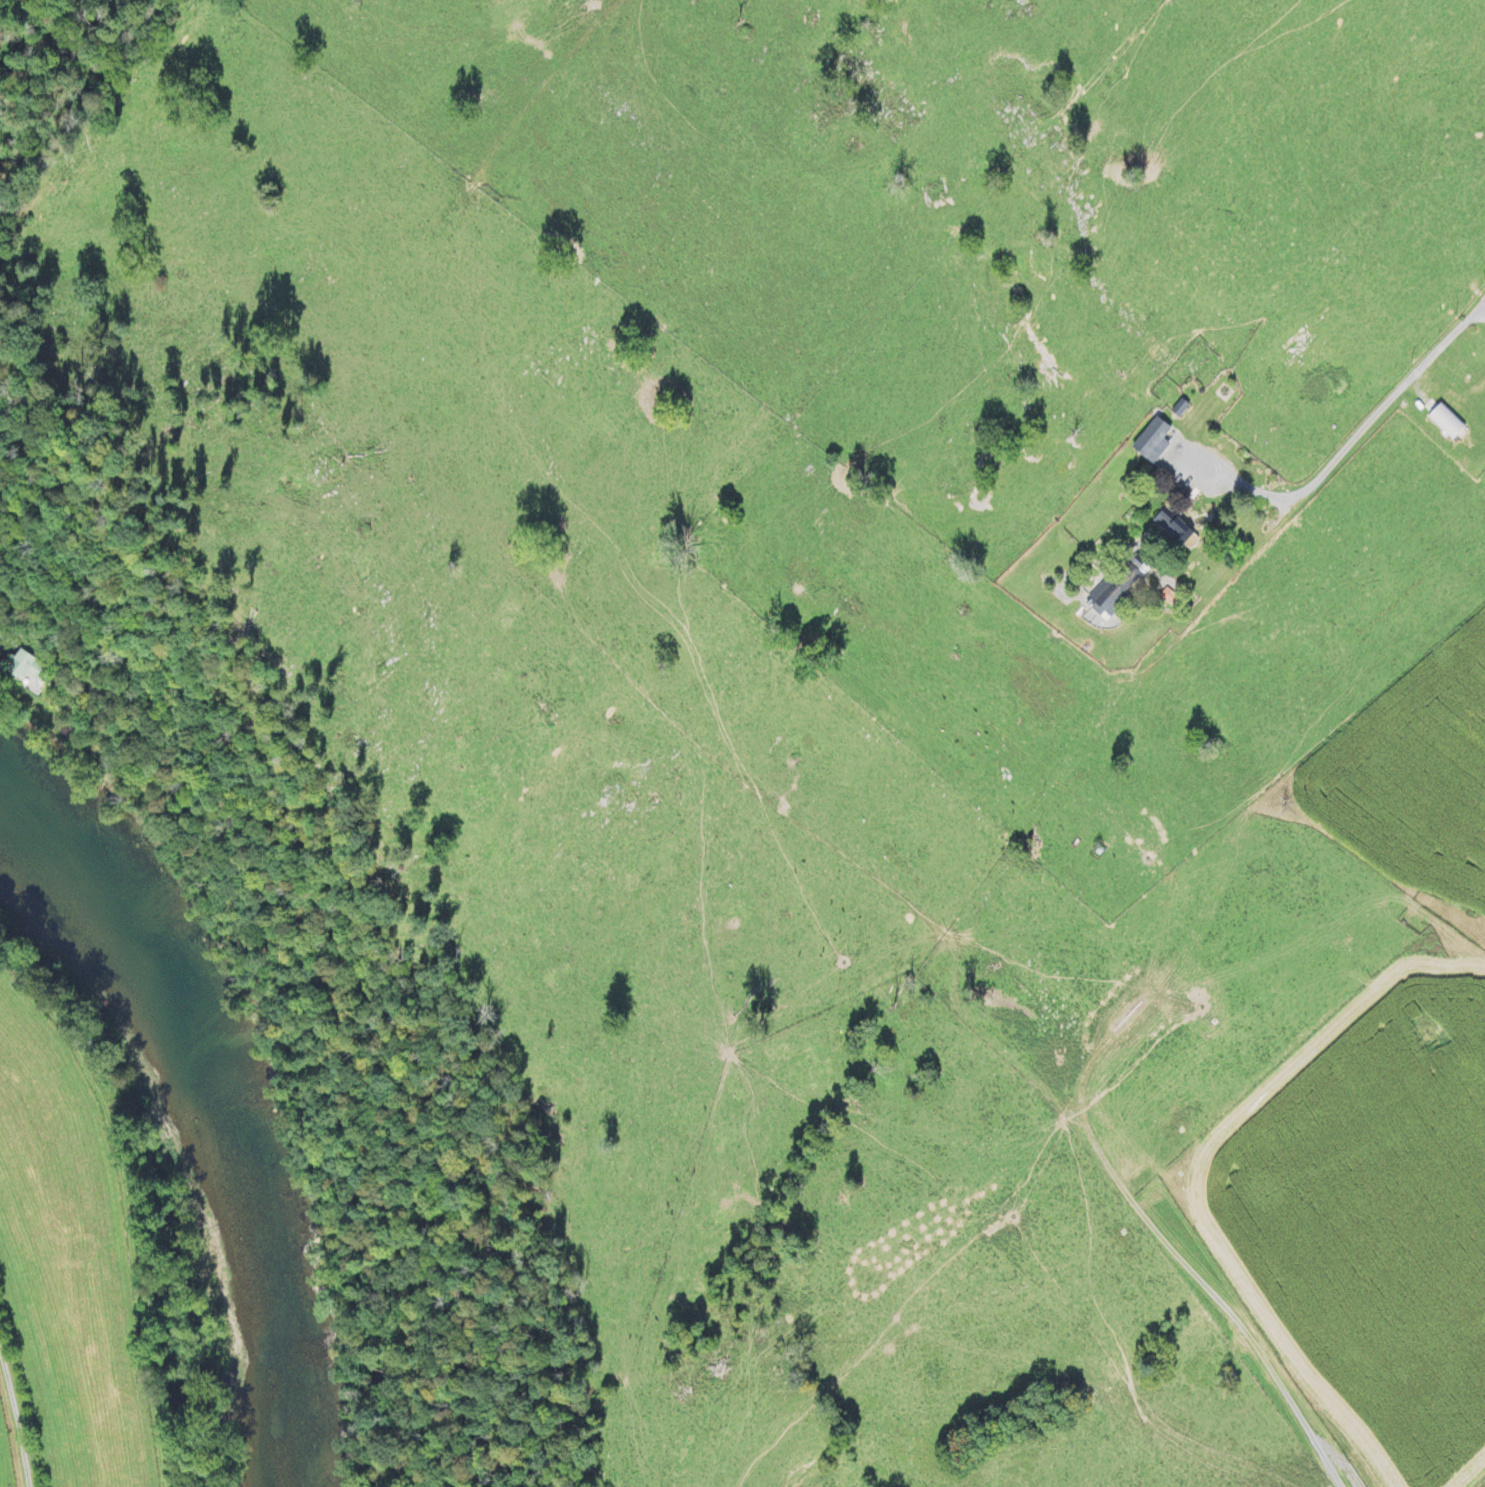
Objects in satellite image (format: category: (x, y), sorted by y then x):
road: (1383, 400)
building: (1445, 421)
building: (1148, 437)
building: (1115, 586)
building: (28, 671)
road: (937, 983)
river: (230, 1114)
road: (14, 1422)

